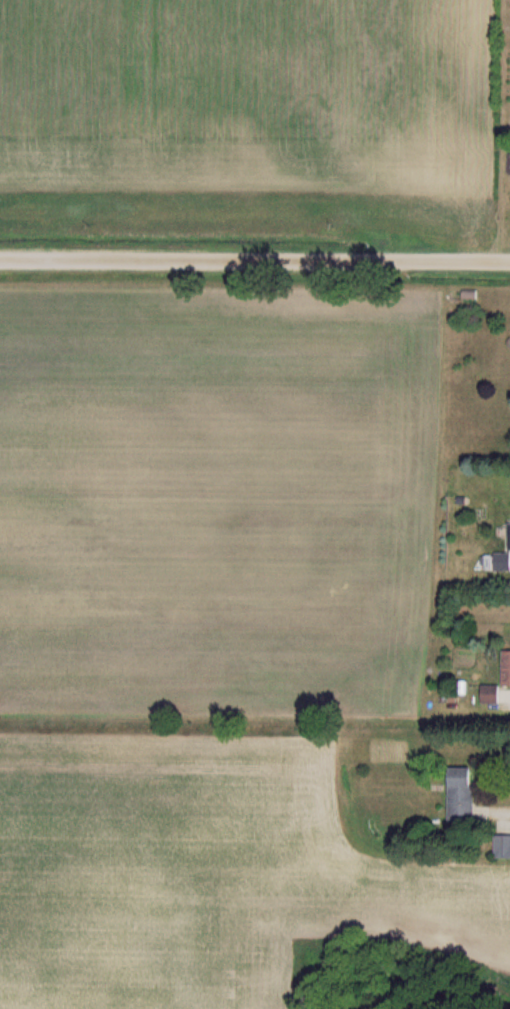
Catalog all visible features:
road: (255, 263)
building: (509, 537)
building: (498, 563)
building: (507, 668)
building: (494, 694)
building: (467, 795)
road: (499, 811)
building: (505, 847)

